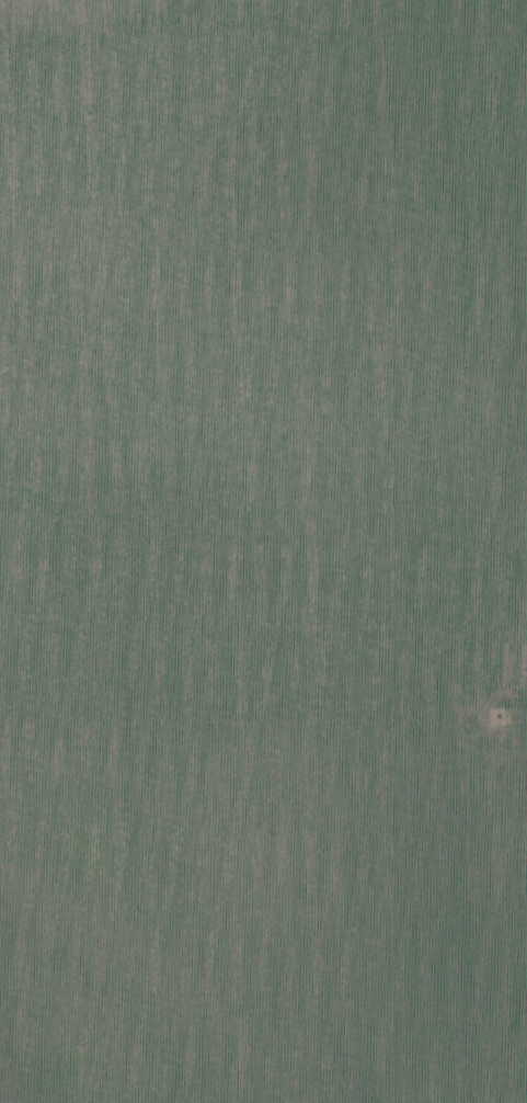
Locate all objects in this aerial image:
crop: (263, 551)

